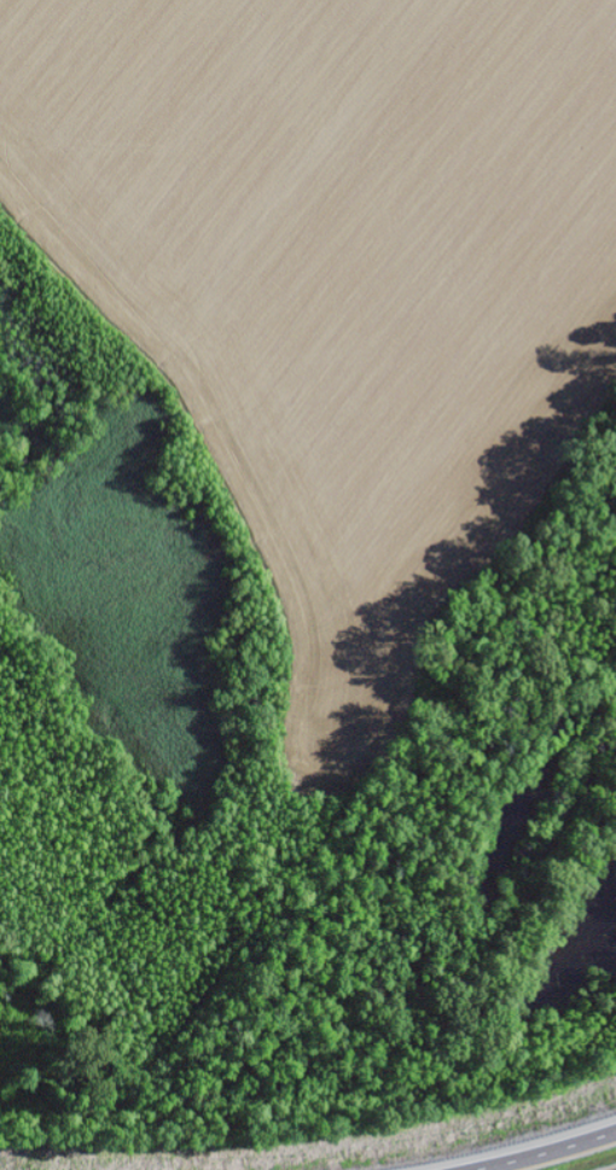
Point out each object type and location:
road: (542, 1152)

